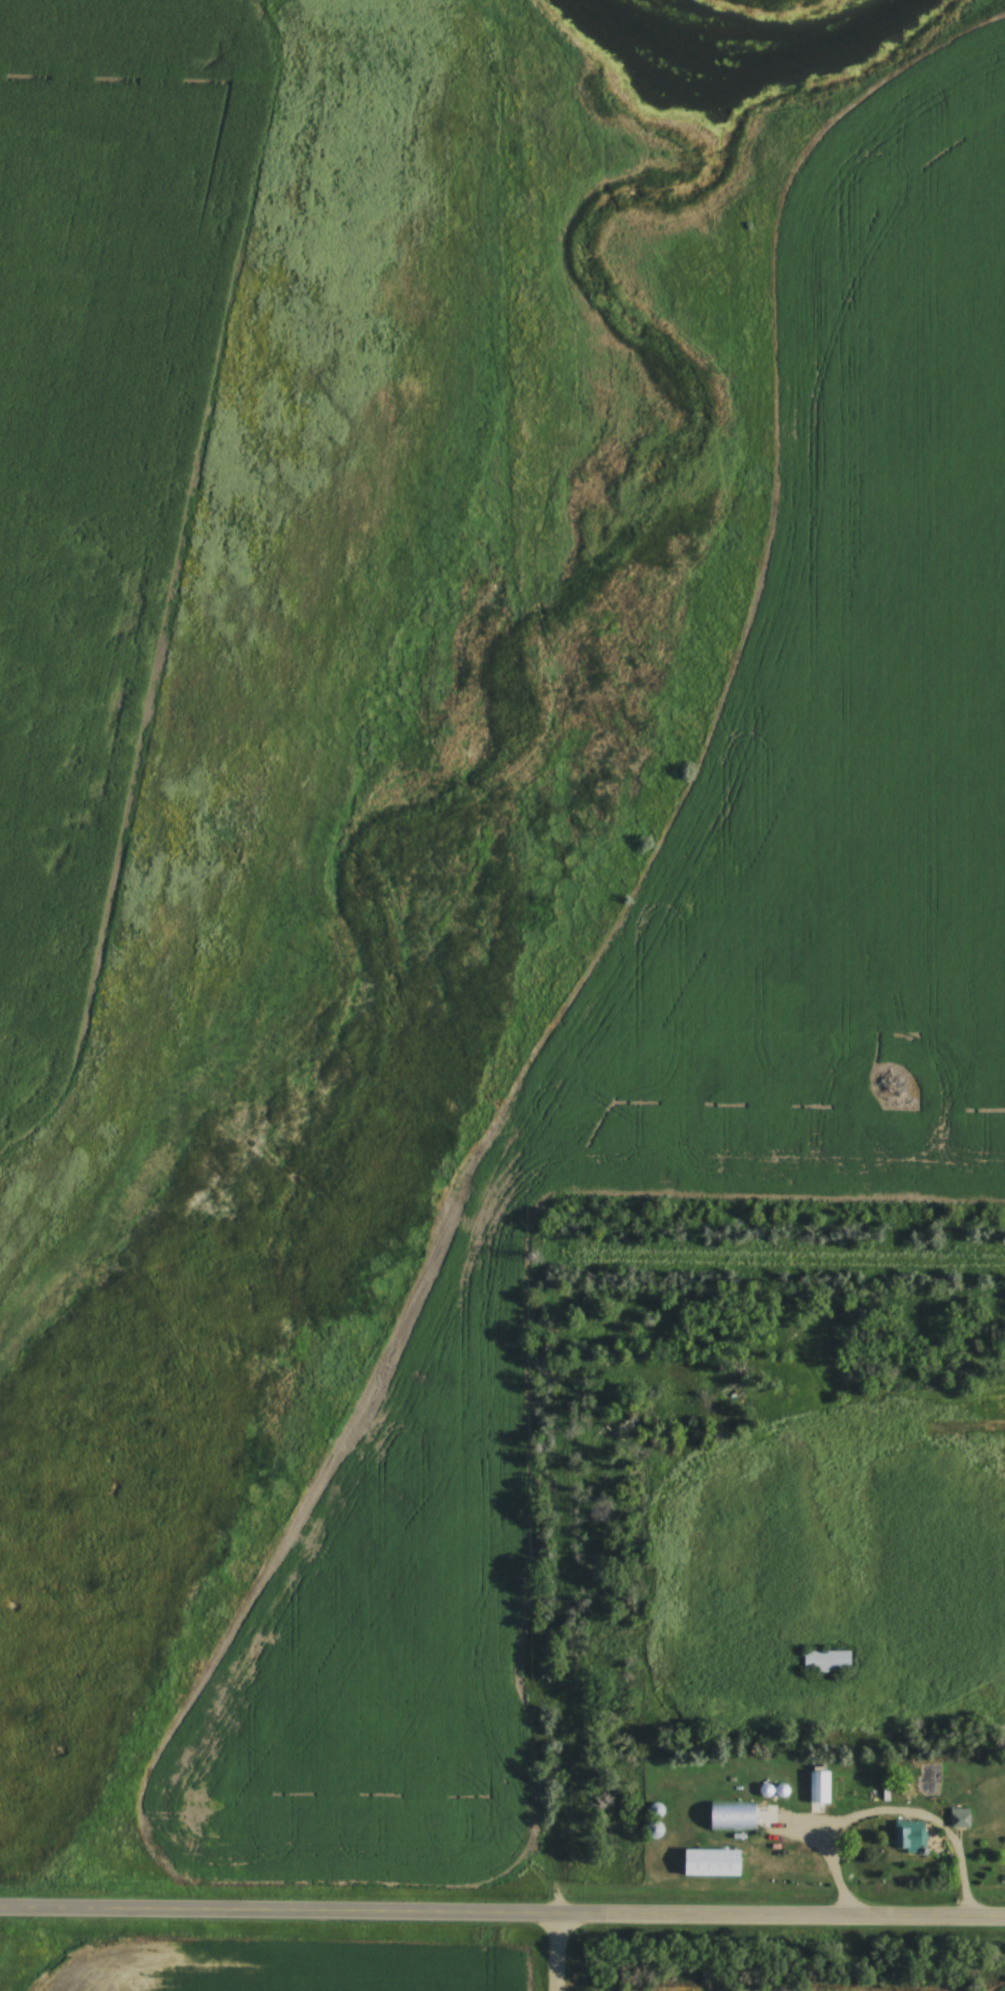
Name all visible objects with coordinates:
building: (824, 1660)
building: (653, 1809)
building: (728, 1815)
building: (957, 1817)
building: (651, 1829)
building: (906, 1836)
building: (707, 1861)
road: (780, 1911)
road: (277, 1912)
road: (554, 1951)

